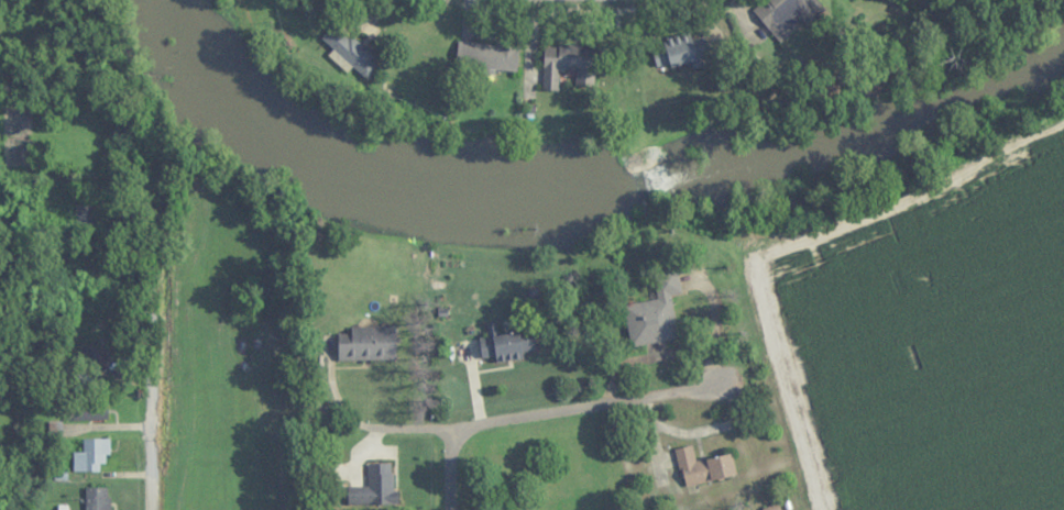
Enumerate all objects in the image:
building: (783, 13)
building: (350, 51)
building: (681, 51)
building: (490, 56)
building: (568, 65)
river: (573, 184)
building: (656, 314)
building: (369, 344)
building: (507, 347)
building: (95, 367)
road: (756, 385)
building: (85, 410)
road: (496, 424)
road: (125, 429)
building: (91, 455)
building: (703, 467)
building: (380, 485)
building: (98, 499)

